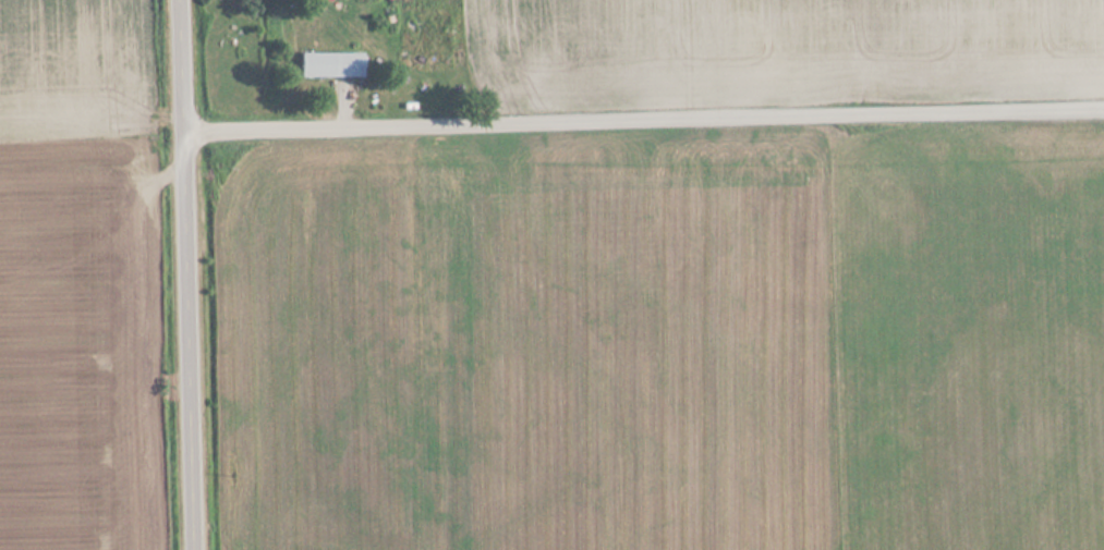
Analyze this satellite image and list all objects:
building: (329, 64)
road: (643, 127)
road: (186, 274)

